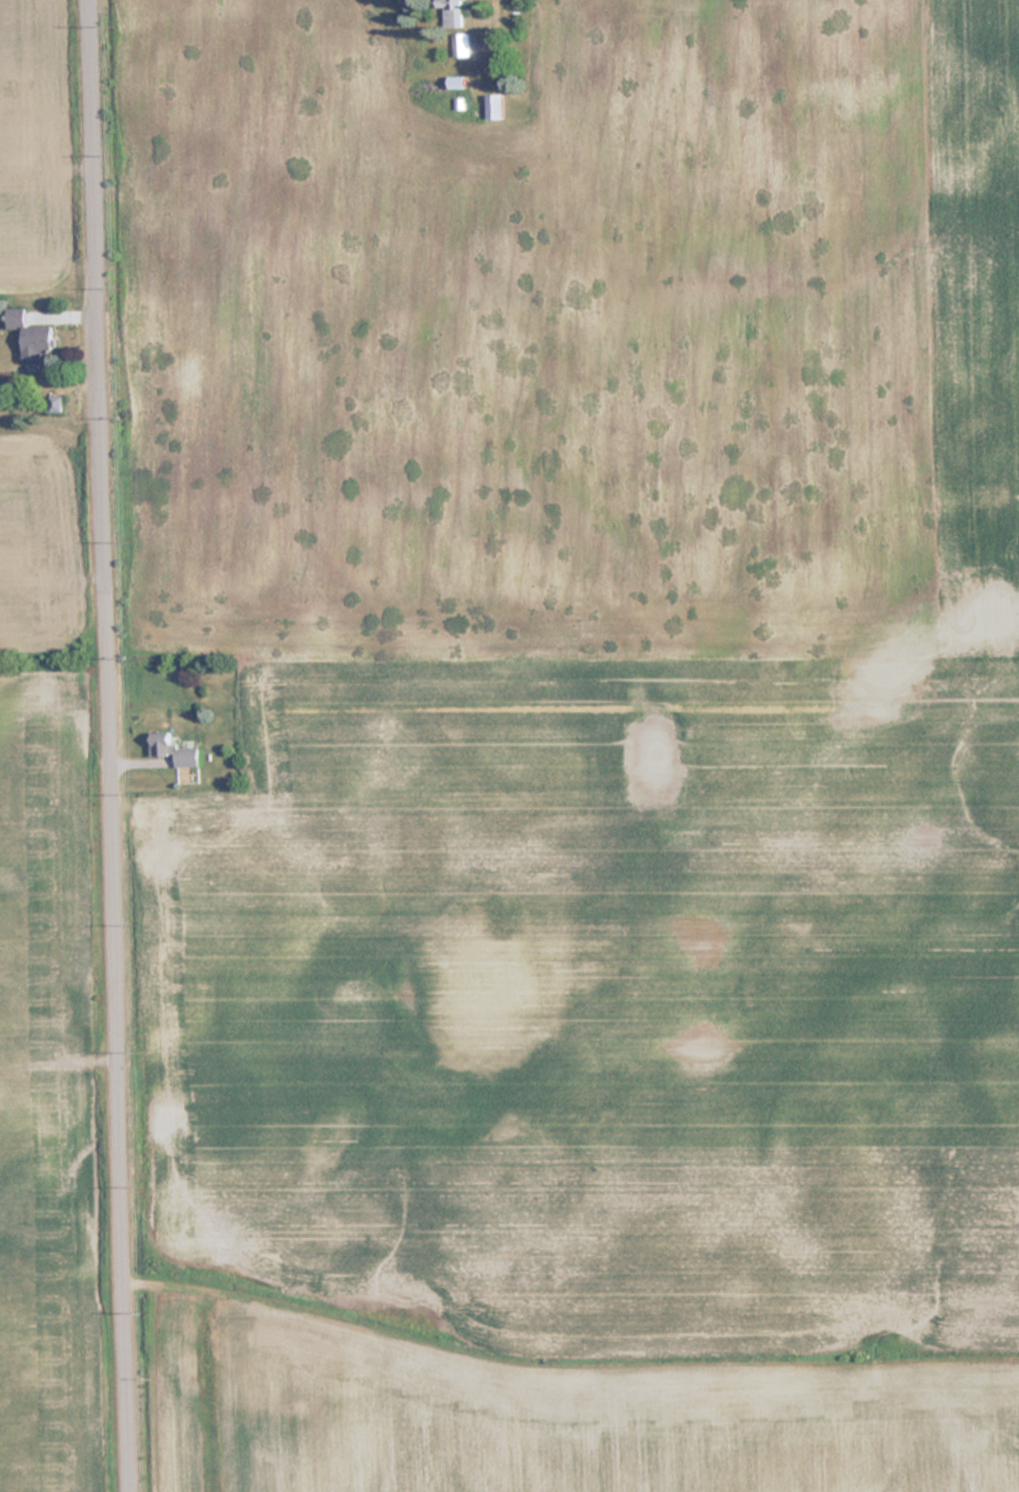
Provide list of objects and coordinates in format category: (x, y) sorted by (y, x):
building: (453, 12)
building: (461, 46)
building: (494, 107)
building: (32, 336)
building: (56, 404)
road: (114, 745)
building: (173, 750)

